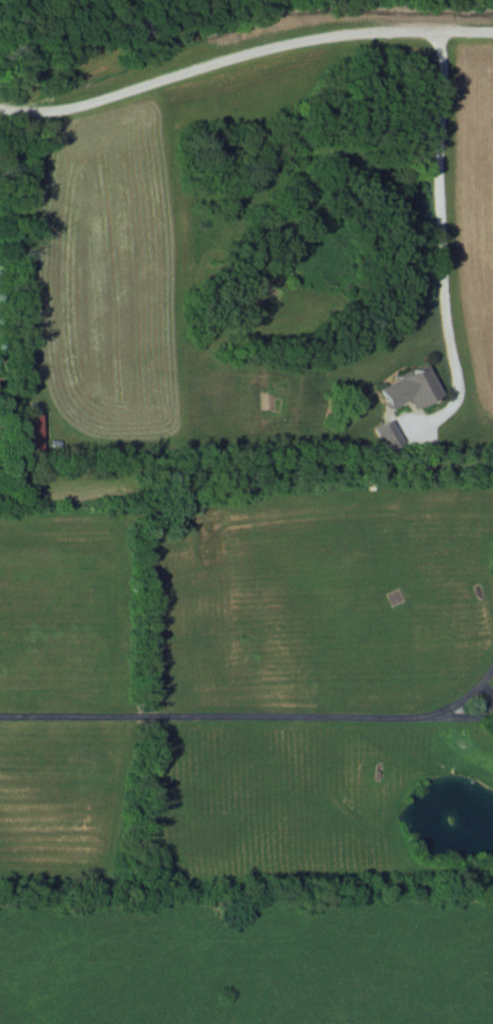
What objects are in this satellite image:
road: (244, 54)
road: (441, 239)
building: (409, 386)
building: (28, 431)
building: (387, 433)
road: (235, 716)

